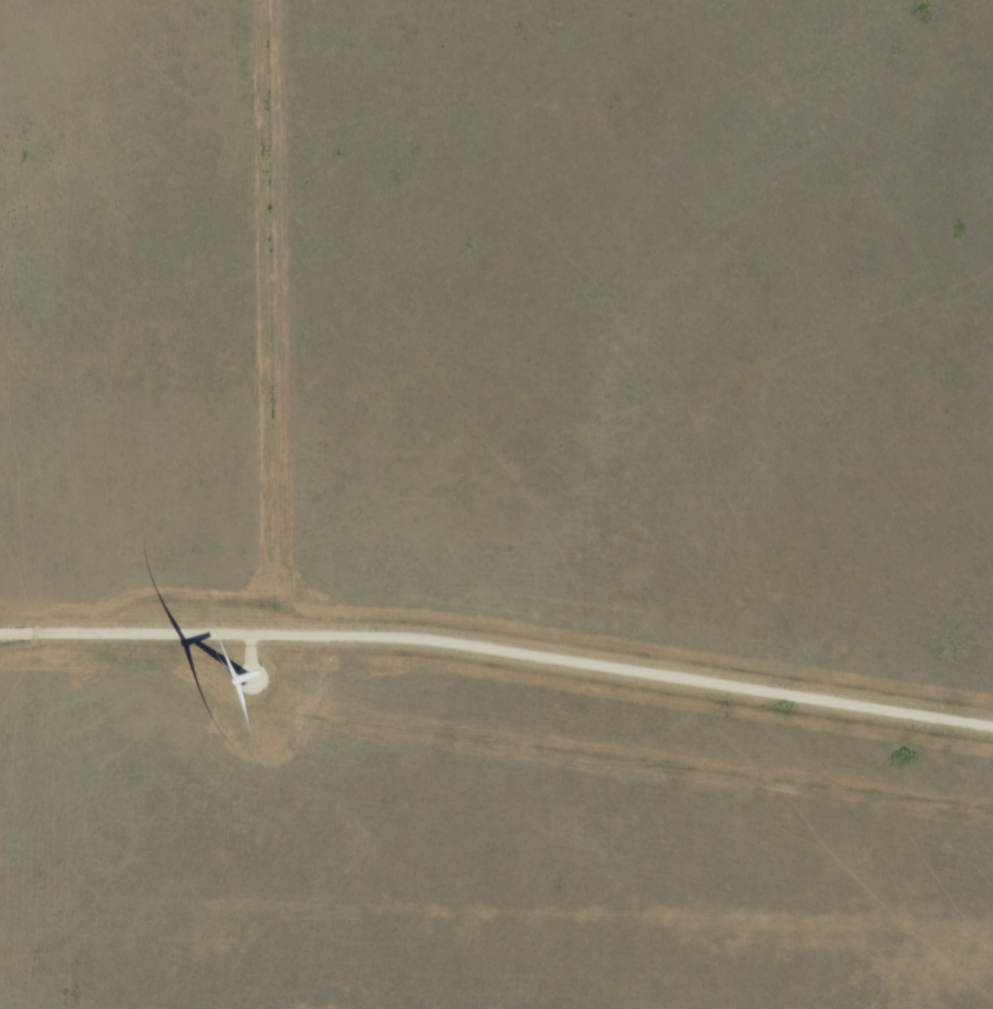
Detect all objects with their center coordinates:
wind turbine: (251, 679)

